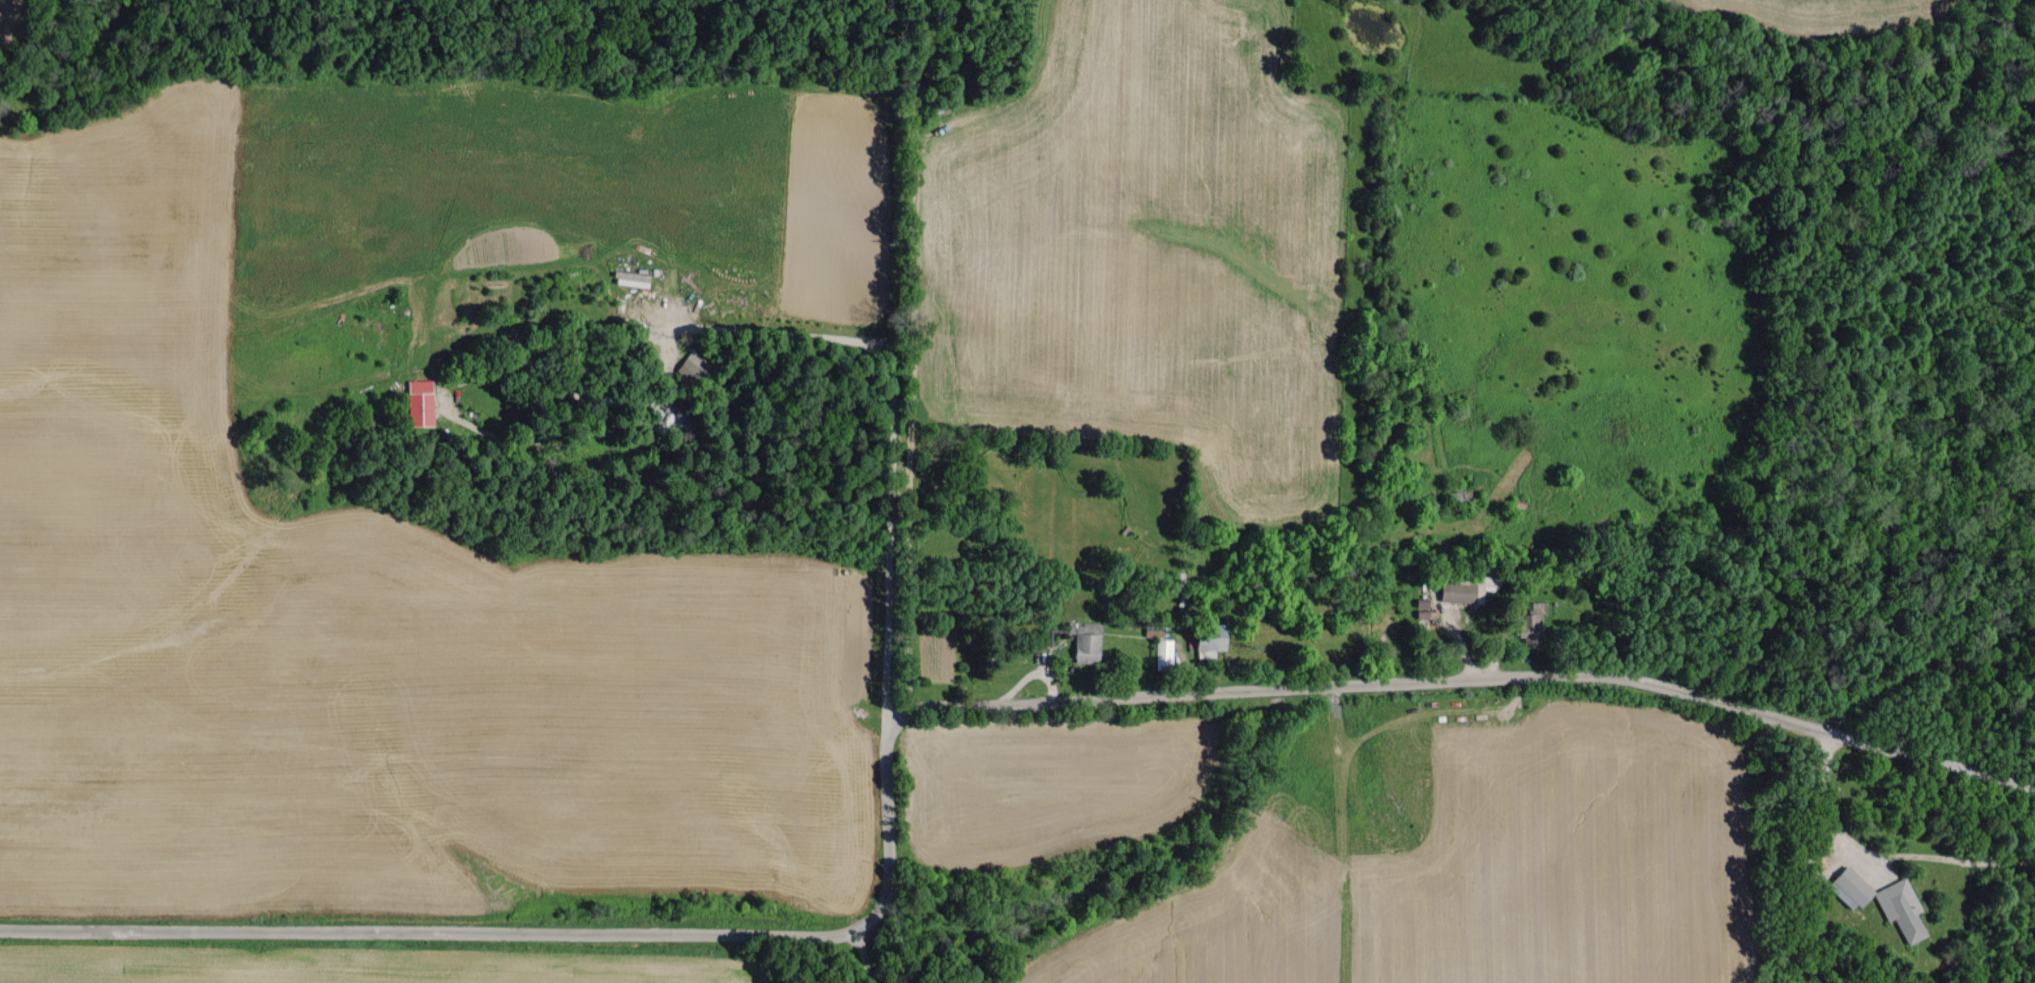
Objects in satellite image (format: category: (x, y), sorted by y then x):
building: (633, 278)
building: (692, 367)
building: (422, 402)
road: (888, 434)
building: (1459, 592)
building: (1537, 624)
building: (1214, 641)
building: (1088, 645)
building: (1166, 653)
road: (931, 708)
road: (1816, 803)
building: (1896, 908)
road: (865, 956)

